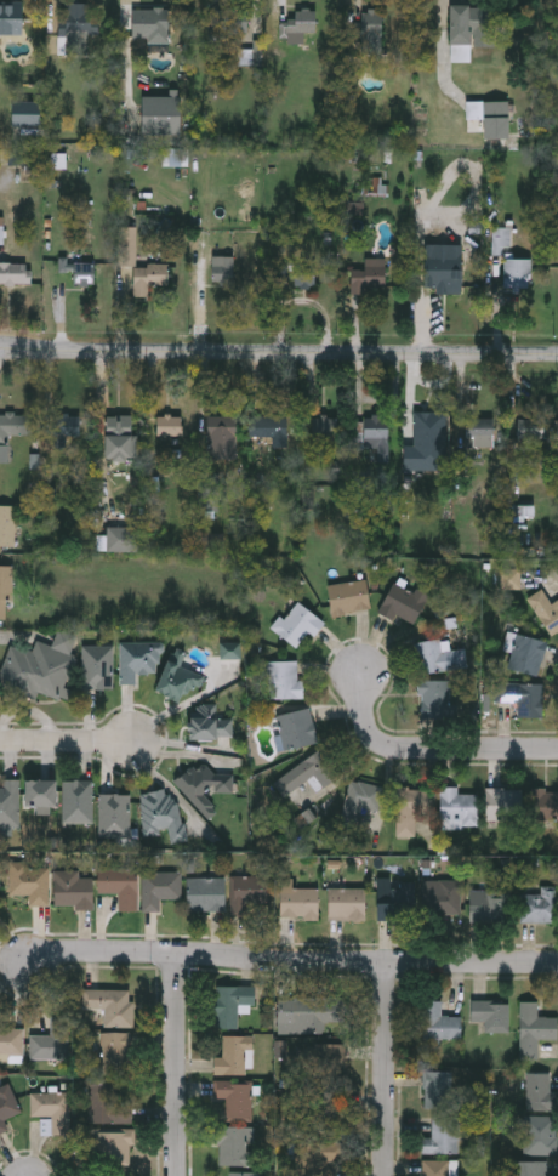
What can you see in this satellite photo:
building: (10, 19)
building: (227, 21)
building: (148, 24)
building: (303, 24)
building: (370, 24)
building: (75, 28)
building: (469, 30)
building: (24, 113)
building: (159, 115)
building: (126, 245)
building: (222, 271)
building: (444, 272)
building: (15, 273)
building: (78, 273)
building: (517, 273)
building: (303, 275)
building: (368, 277)
building: (147, 279)
road: (278, 353)
building: (13, 425)
building: (170, 426)
building: (324, 427)
building: (63, 428)
building: (426, 432)
building: (479, 432)
building: (118, 437)
building: (220, 437)
building: (272, 438)
building: (376, 438)
building: (207, 492)
building: (7, 524)
building: (121, 539)
building: (5, 592)
building: (348, 596)
building: (402, 604)
building: (545, 610)
building: (297, 624)
building: (524, 653)
building: (438, 655)
building: (137, 659)
building: (39, 666)
building: (97, 666)
building: (177, 677)
building: (284, 680)
building: (434, 695)
building: (525, 697)
building: (207, 723)
building: (296, 728)
road: (67, 740)
road: (431, 746)
building: (308, 773)
building: (203, 788)
building: (38, 794)
building: (364, 797)
building: (76, 802)
building: (8, 803)
building: (503, 803)
building: (457, 805)
building: (543, 805)
building: (410, 809)
building: (161, 814)
building: (114, 817)
building: (29, 886)
building: (119, 888)
building: (70, 891)
building: (159, 891)
building: (247, 894)
building: (205, 896)
building: (0, 897)
building: (442, 901)
building: (395, 902)
building: (297, 903)
building: (346, 907)
building: (540, 908)
building: (489, 909)
road: (294, 961)
building: (230, 1002)
building: (110, 1007)
building: (311, 1012)
building: (491, 1012)
building: (438, 1023)
building: (534, 1028)
building: (51, 1043)
building: (11, 1046)
building: (115, 1053)
building: (234, 1055)
building: (323, 1062)
road: (176, 1066)
road: (385, 1068)
building: (440, 1089)
building: (540, 1091)
building: (234, 1096)
building: (113, 1103)
building: (7, 1107)
building: (328, 1109)
building: (51, 1112)
building: (443, 1134)
building: (540, 1134)
building: (232, 1144)
building: (109, 1148)
building: (315, 1157)
building: (435, 1166)
building: (528, 1168)
building: (245, 1172)

